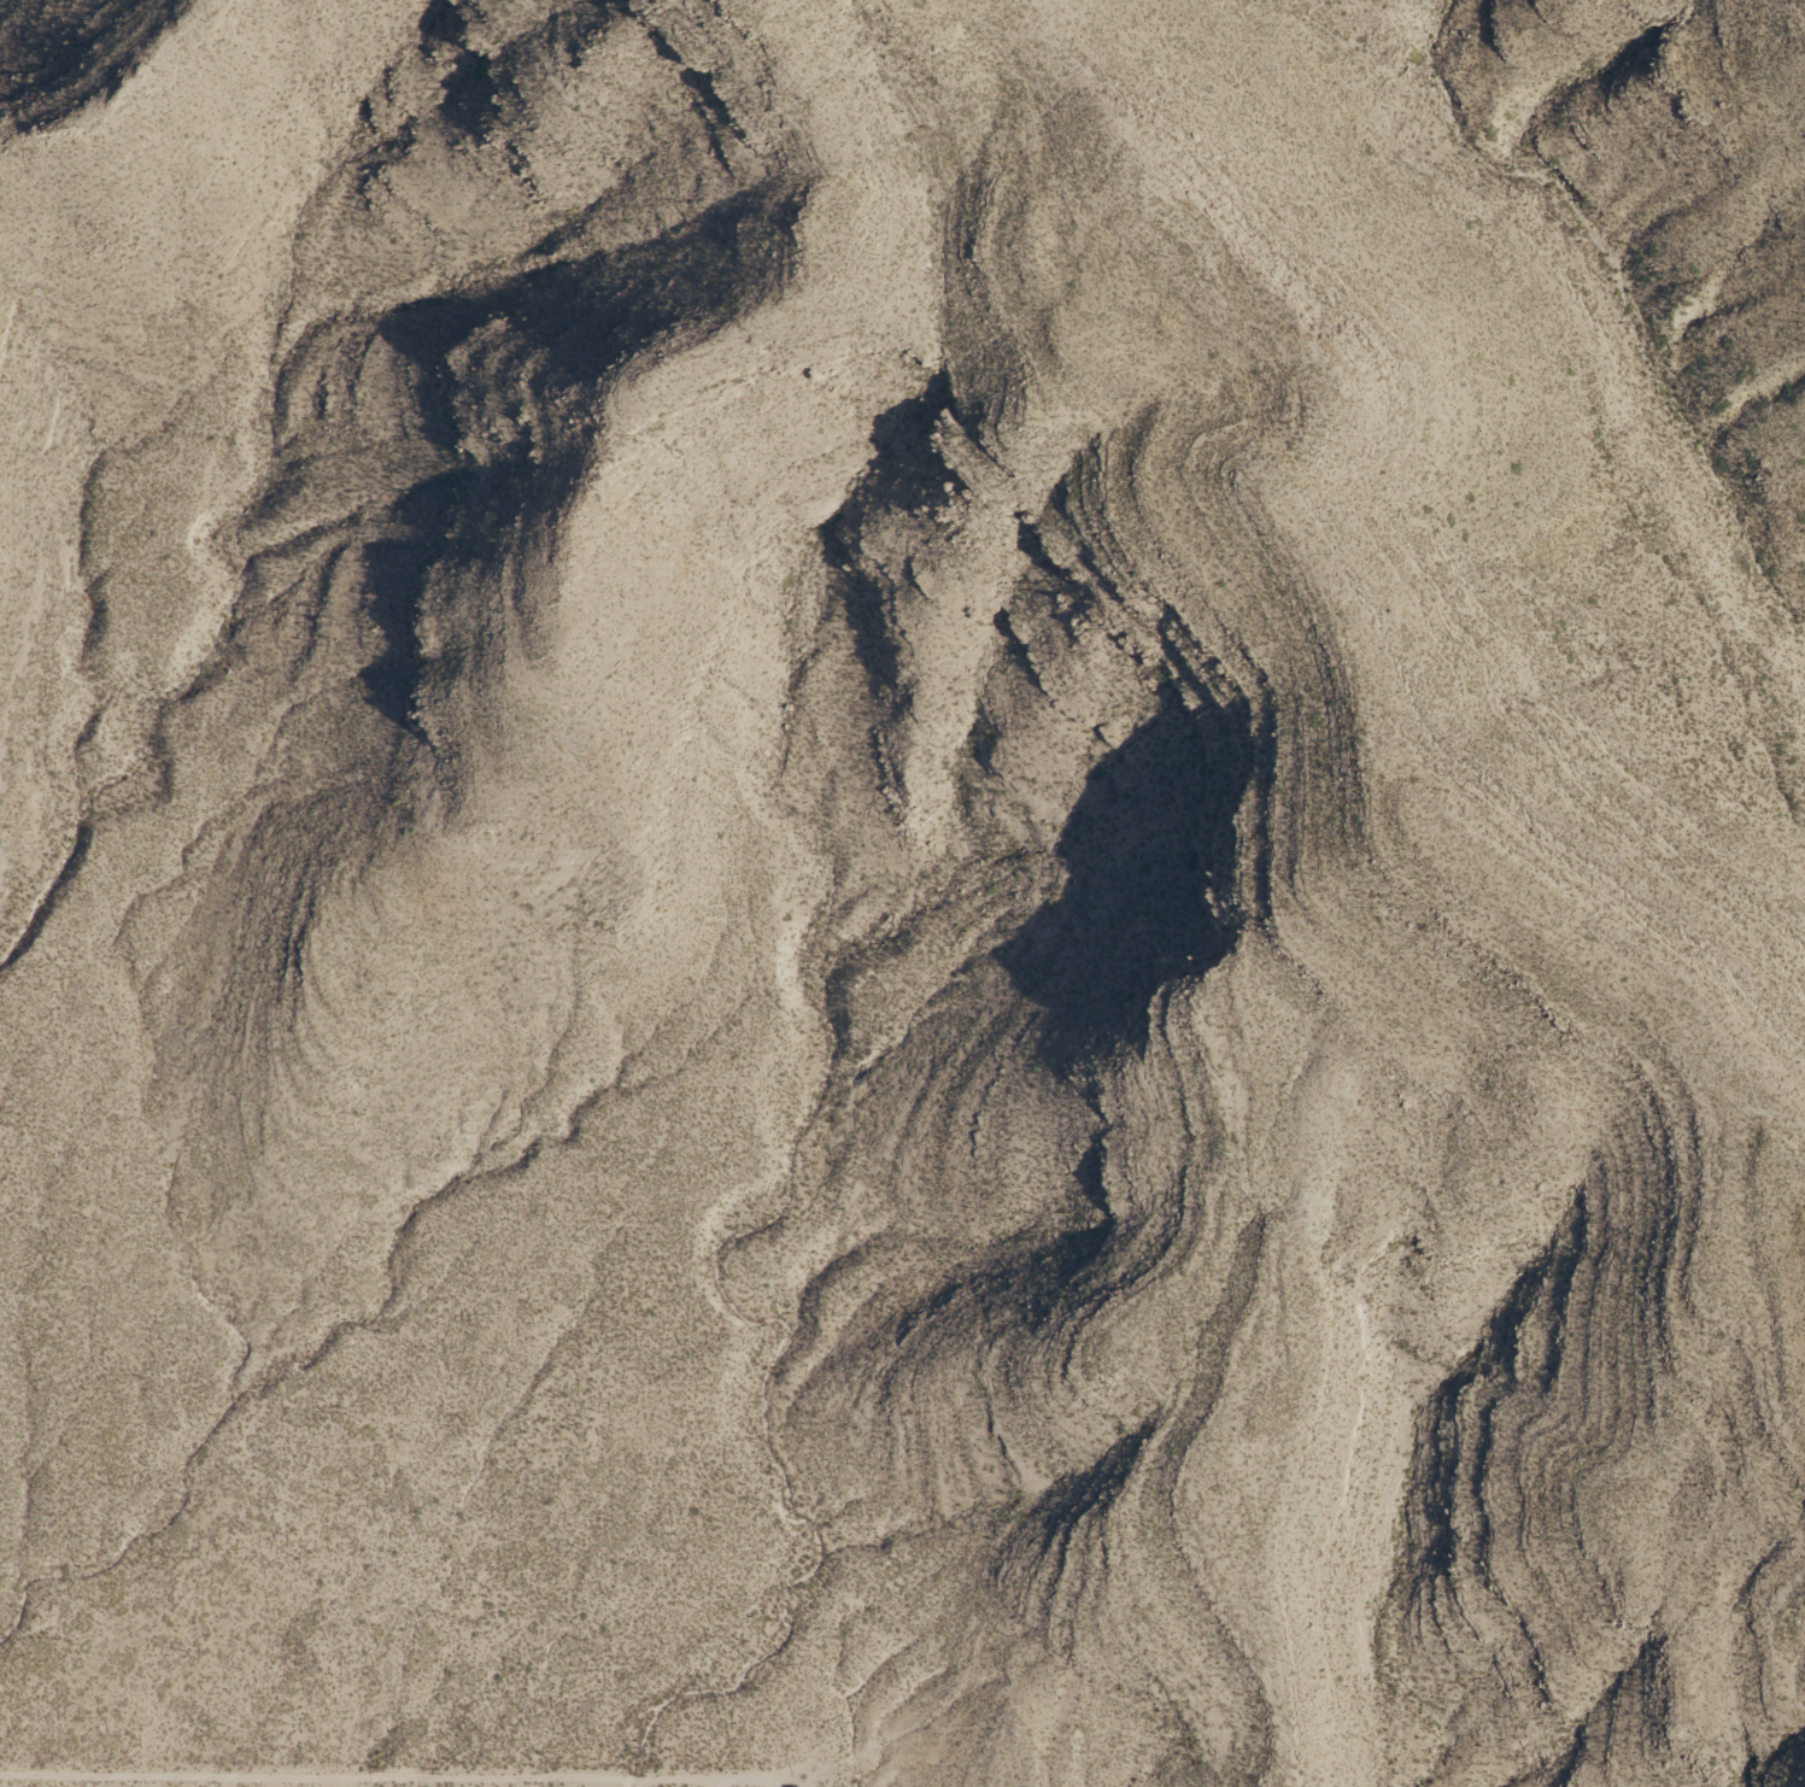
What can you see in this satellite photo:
road: (406, 1782)
road: (711, 1783)
road: (151, 1785)
road: (340, 1785)
road: (526, 1785)

